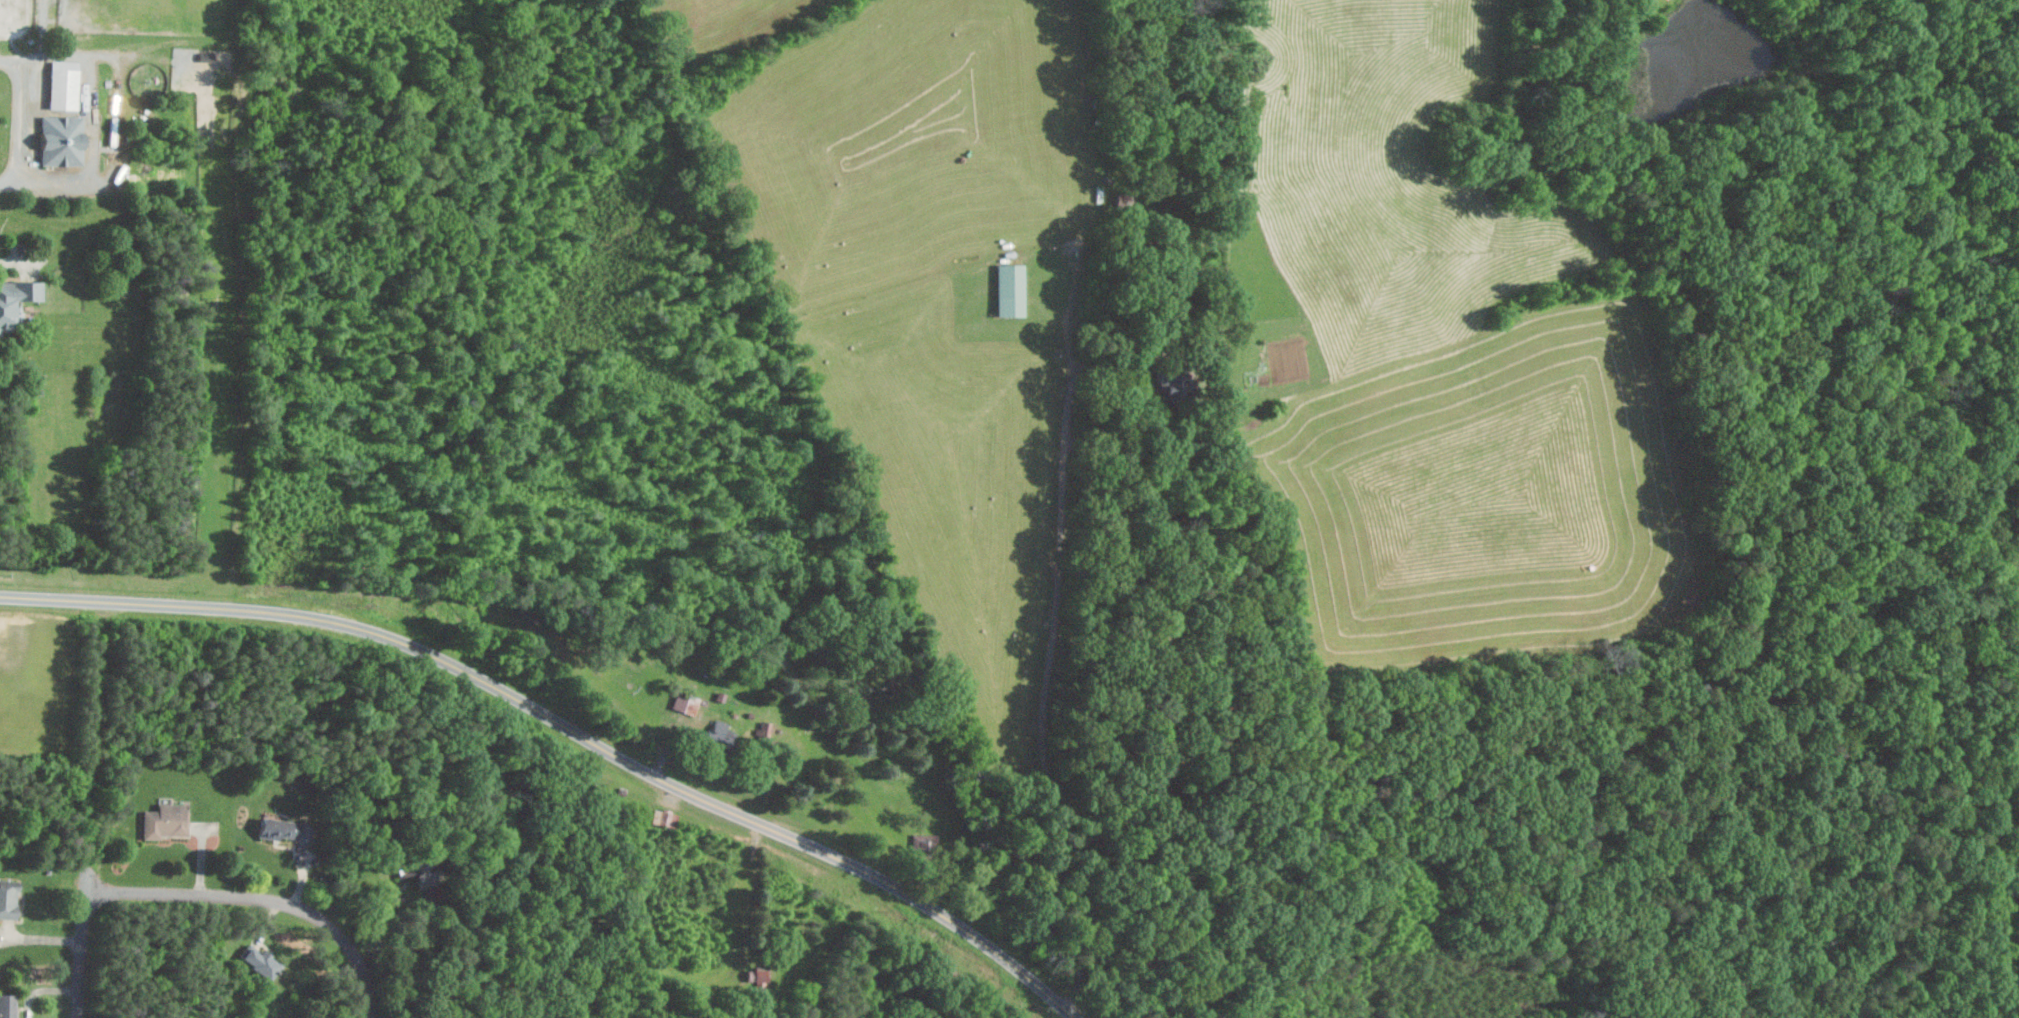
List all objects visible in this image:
building: (61, 84)
building: (59, 139)
building: (1009, 289)
building: (15, 299)
road: (1139, 395)
road: (1052, 643)
road: (566, 726)
park: (240, 753)
building: (663, 818)
building: (164, 821)
building: (282, 829)
building: (417, 870)
road: (262, 899)
road: (413, 901)
building: (7, 902)
road: (82, 953)
building: (257, 962)
building: (759, 983)
road: (44, 989)
building: (6, 1006)

